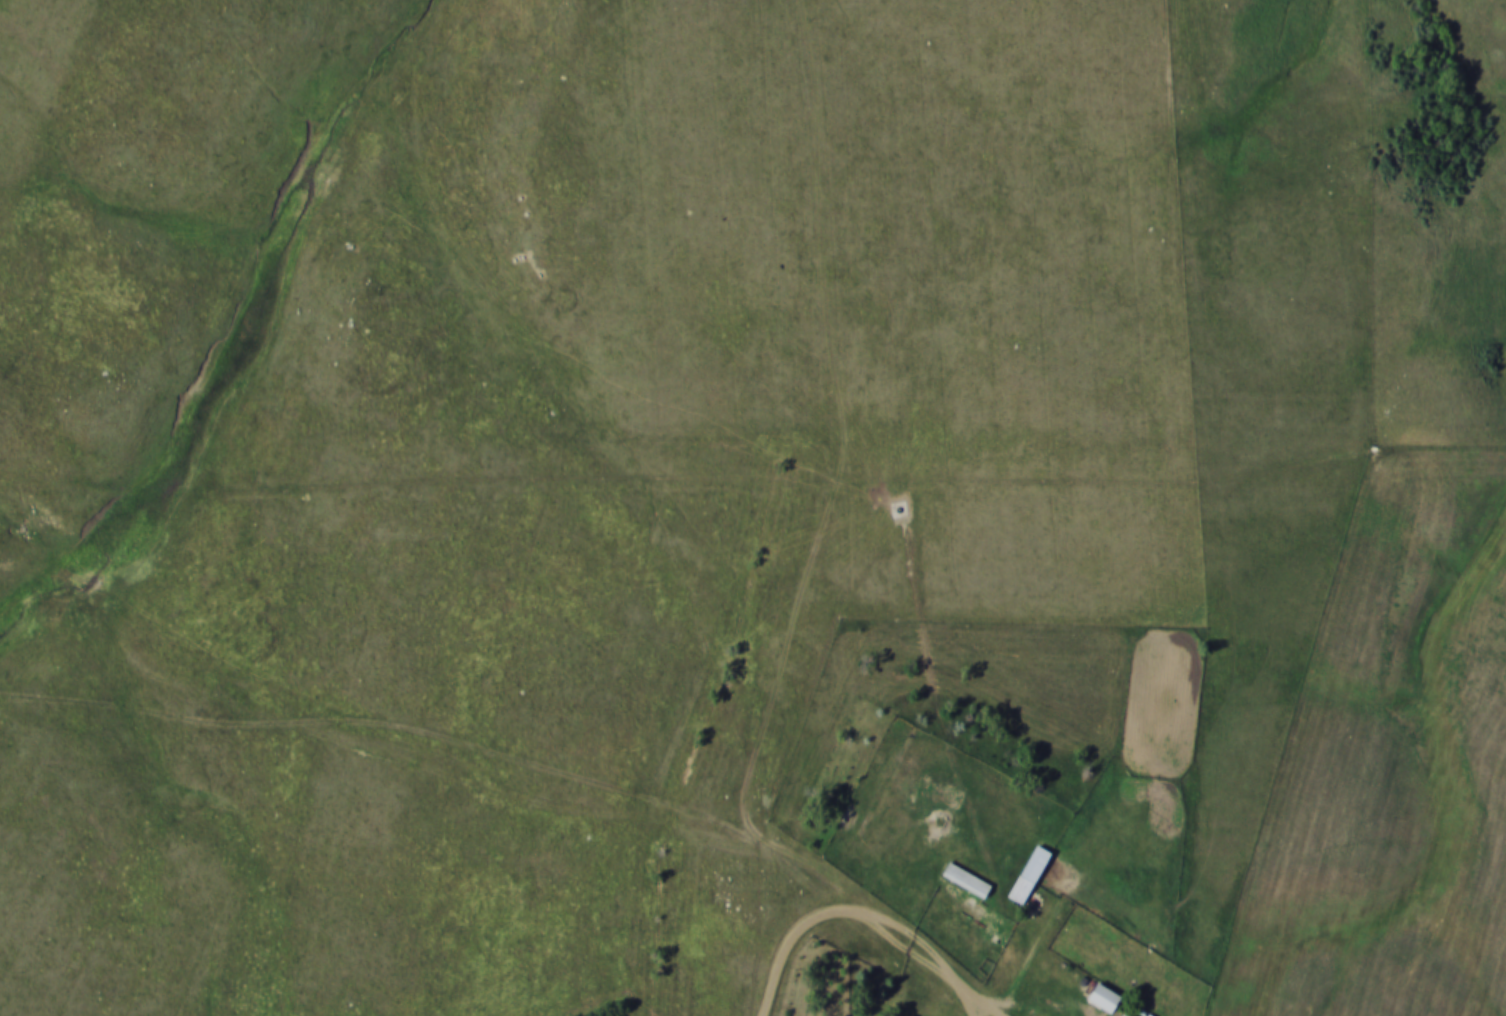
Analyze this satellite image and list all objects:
road: (446, 735)
building: (1027, 874)
building: (965, 879)
road: (870, 910)
building: (1102, 997)
road: (969, 998)
building: (1124, 1015)

